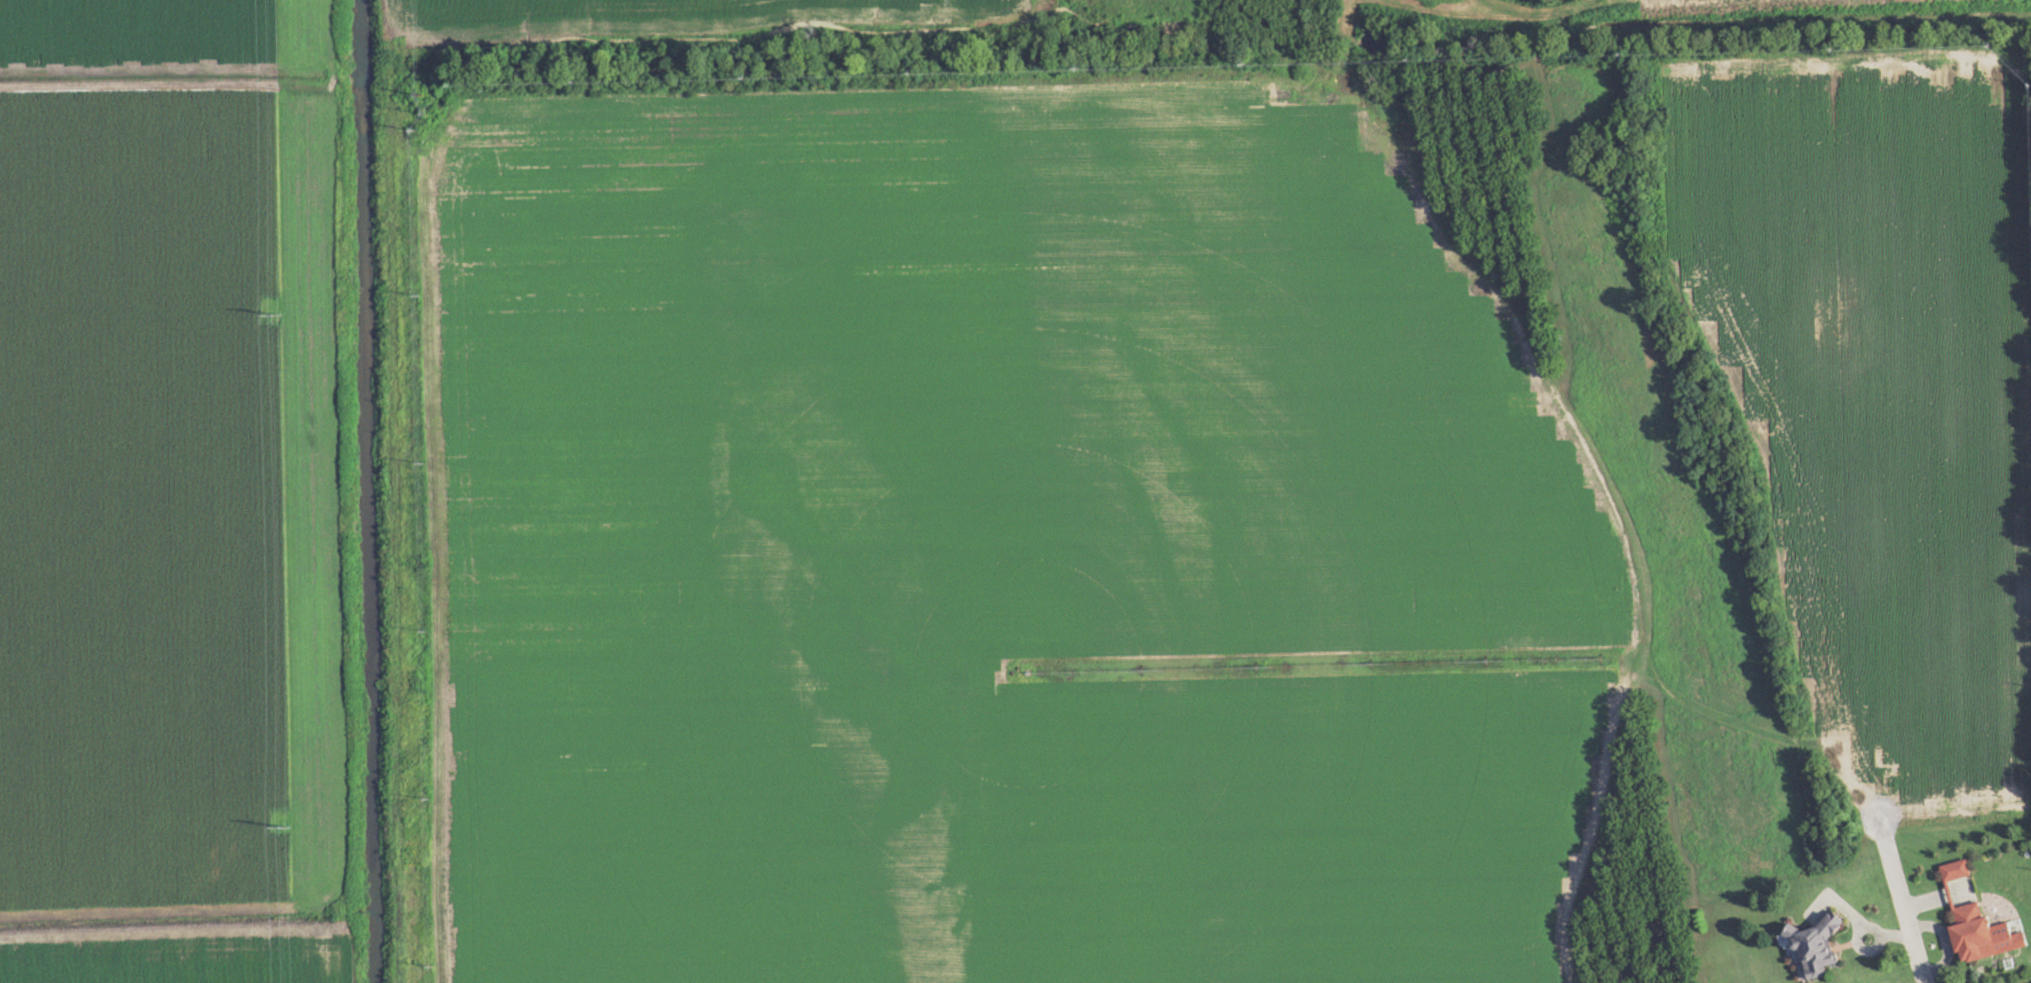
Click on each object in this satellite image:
road: (1906, 900)
building: (1979, 916)
building: (1820, 943)

